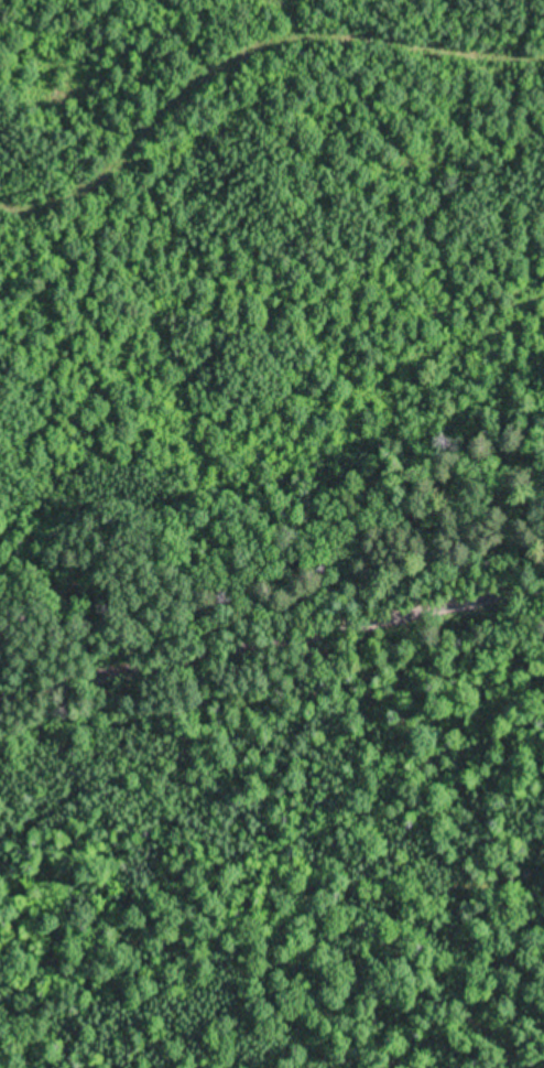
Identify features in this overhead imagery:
road: (247, 50)
road: (272, 645)
park: (270, 662)

